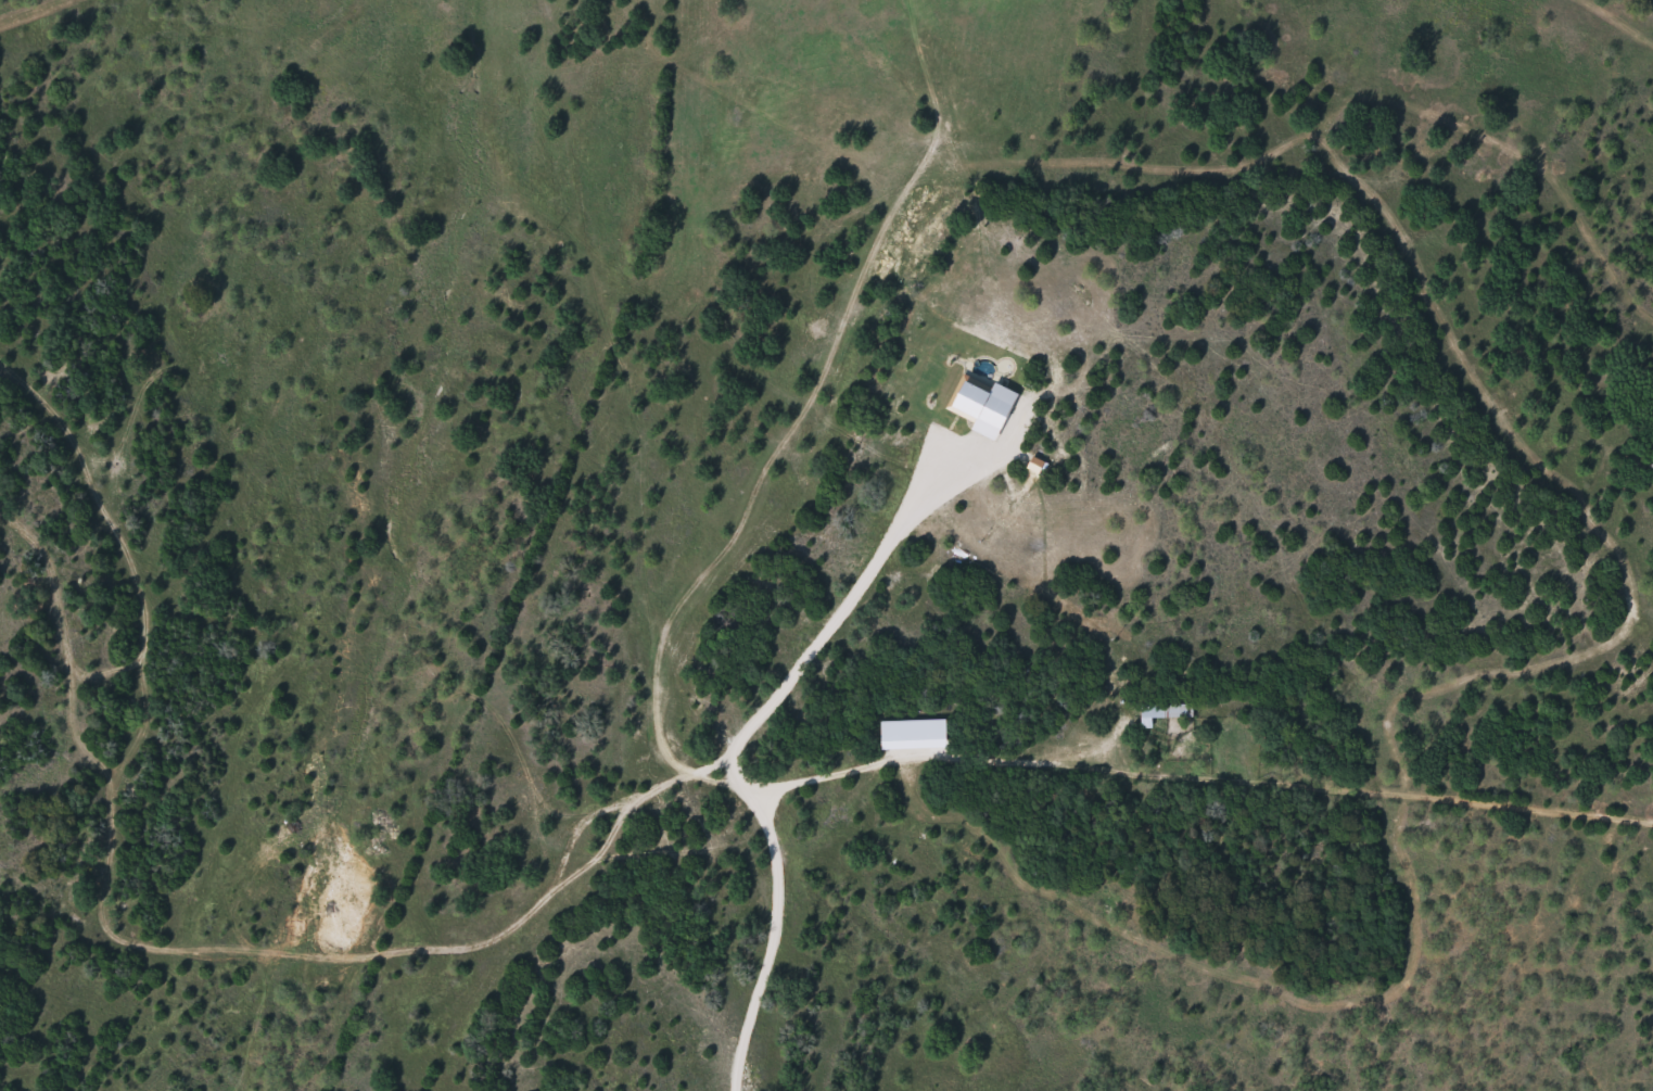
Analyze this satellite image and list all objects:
building: (1154, 711)

